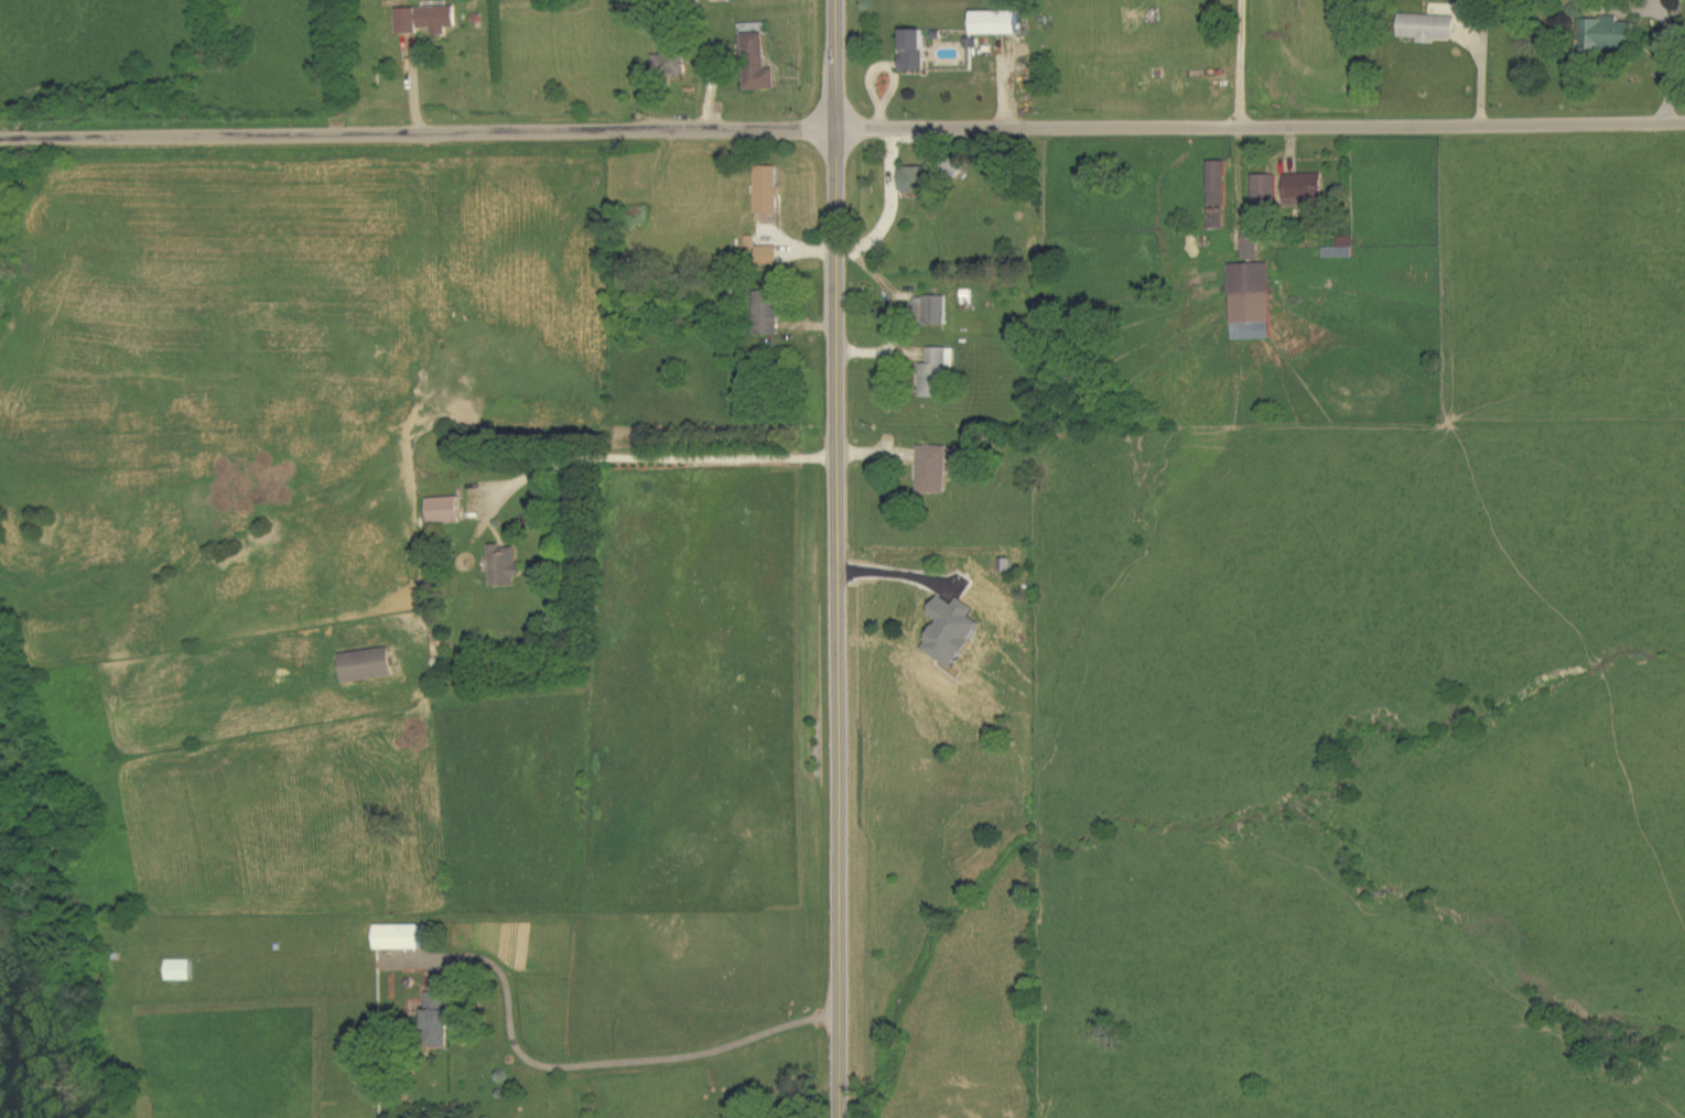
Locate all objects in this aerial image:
building: (1542, 0)
road: (1660, 7)
road: (1623, 13)
building: (428, 20)
building: (998, 23)
building: (1429, 29)
building: (1606, 34)
building: (914, 52)
road: (1240, 63)
road: (1674, 63)
building: (670, 65)
building: (758, 65)
road: (842, 129)
building: (917, 181)
building: (1306, 189)
building: (768, 191)
building: (1267, 191)
building: (1219, 196)
building: (752, 242)
building: (1252, 247)
building: (1342, 250)
building: (768, 256)
building: (1252, 302)
building: (932, 311)
building: (767, 316)
building: (938, 373)
road: (651, 454)
building: (935, 470)
building: (445, 510)
road: (834, 558)
building: (505, 566)
building: (953, 632)
building: (370, 666)
building: (400, 938)
building: (181, 972)
building: (440, 1017)
road: (580, 1066)

